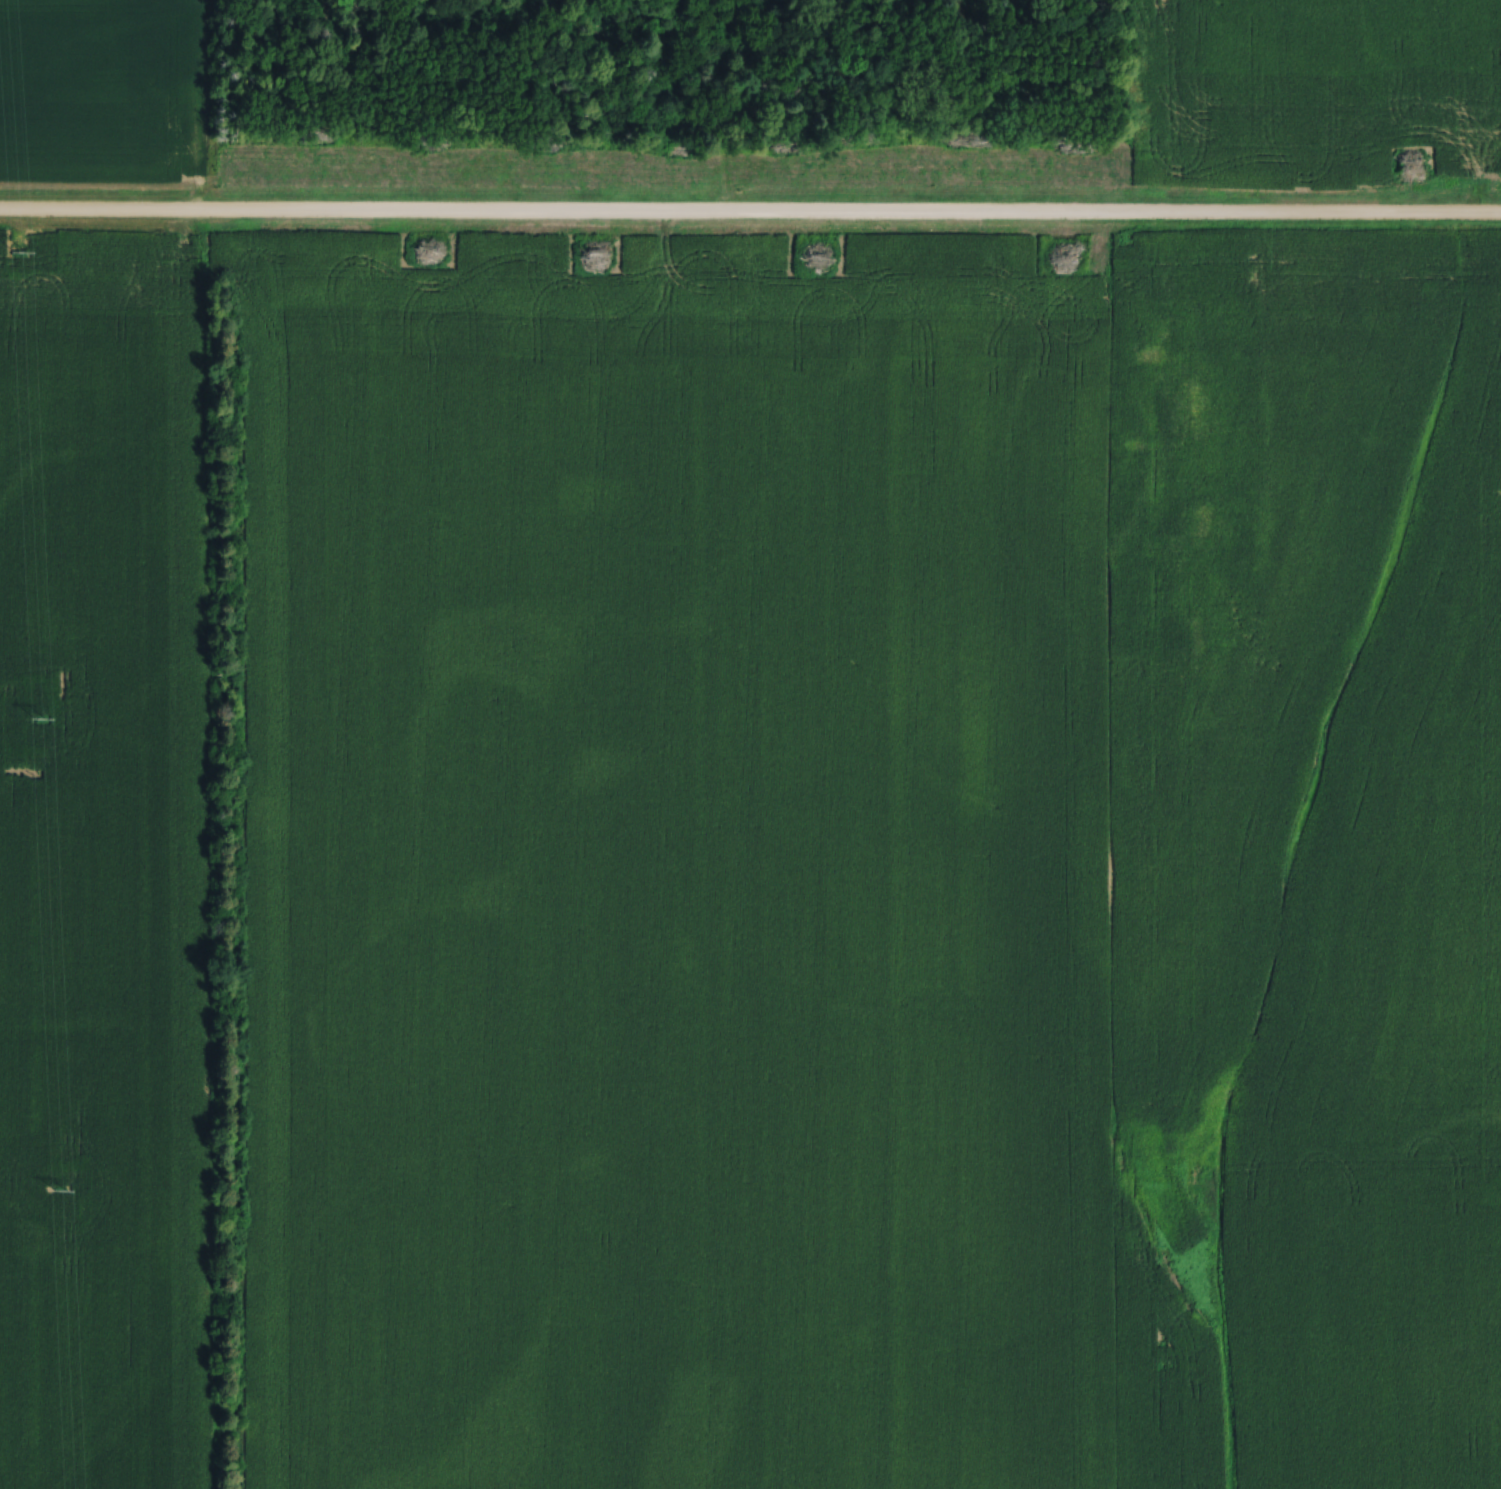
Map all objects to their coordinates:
road: (750, 216)
power tower: (21, 253)
power tower: (40, 718)
power tower: (61, 1190)

